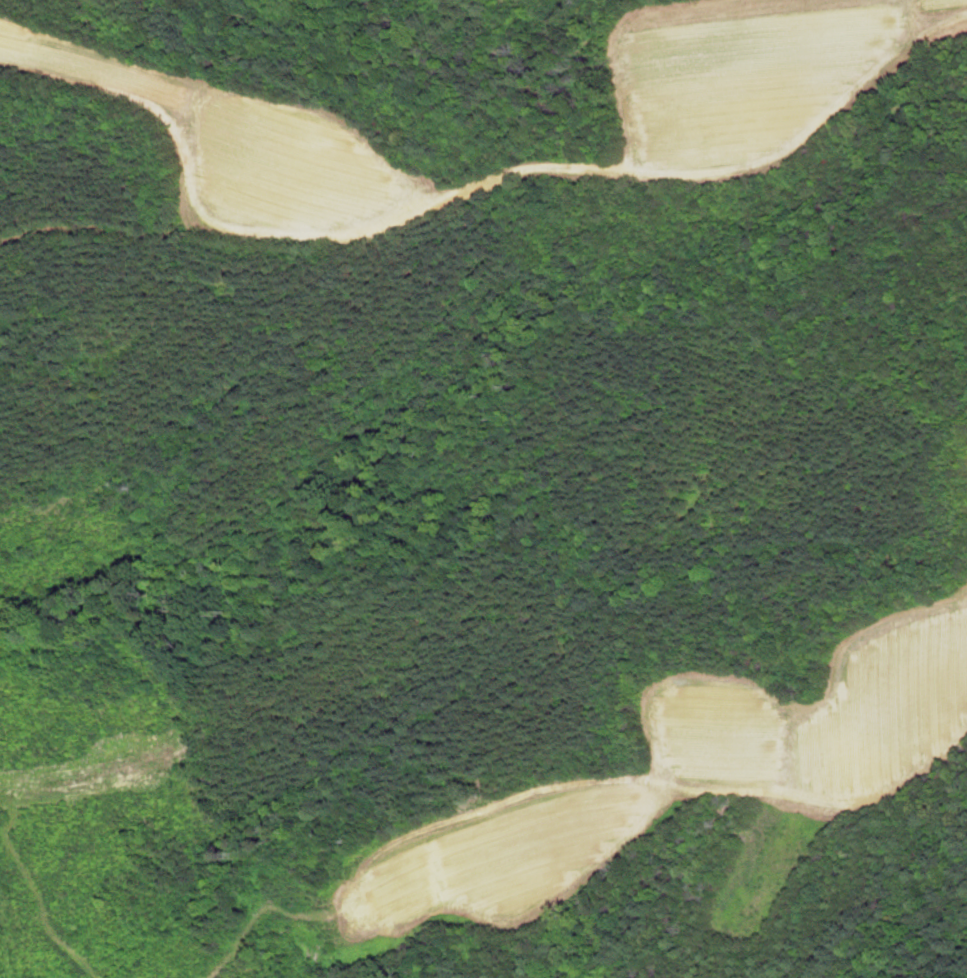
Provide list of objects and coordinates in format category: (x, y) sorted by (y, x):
road: (501, 176)

